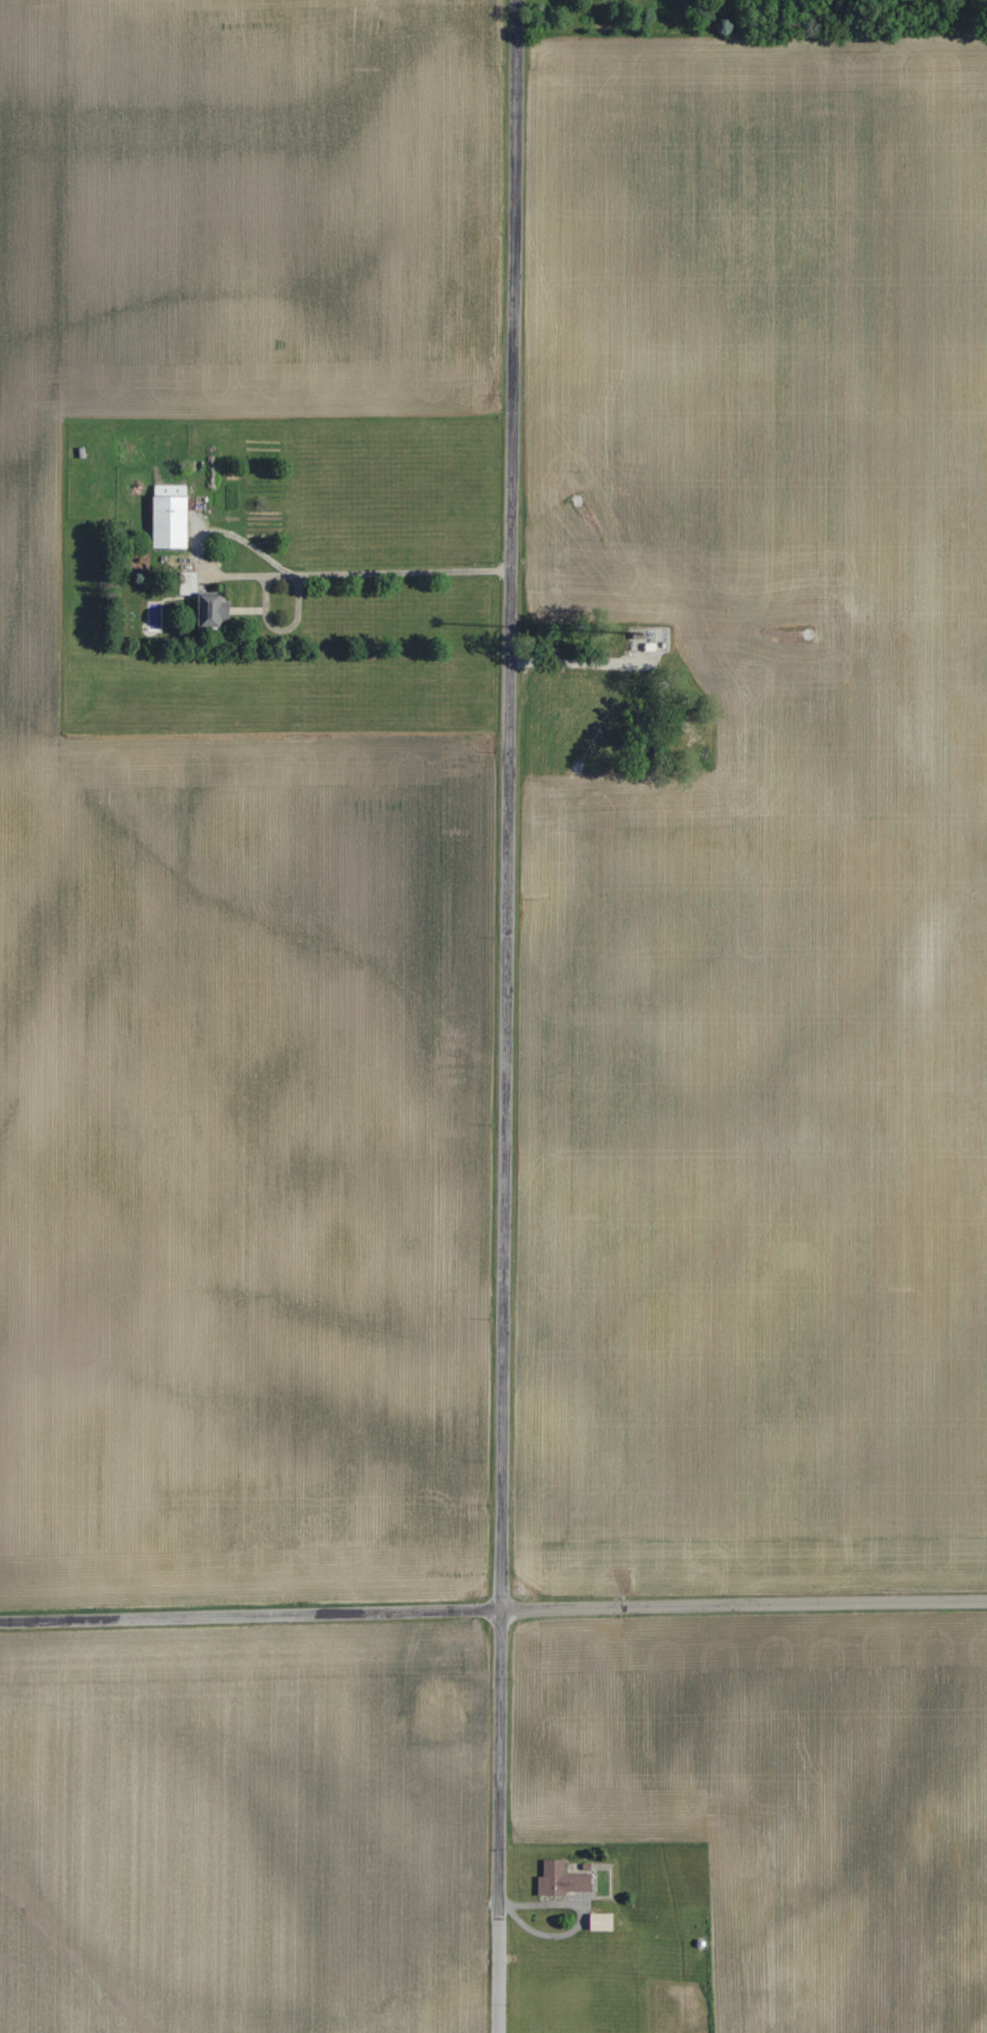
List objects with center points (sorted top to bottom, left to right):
building: (170, 521)
road: (293, 577)
building: (188, 583)
building: (213, 610)
building: (651, 645)
road: (585, 661)
road: (505, 1016)
road: (744, 1603)
road: (251, 1608)
building: (563, 1879)

